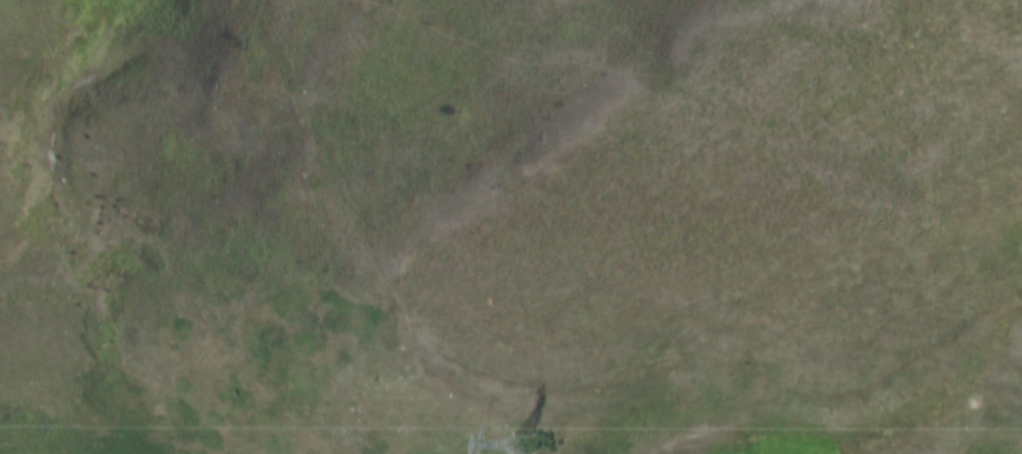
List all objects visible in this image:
power tower: (524, 444)

